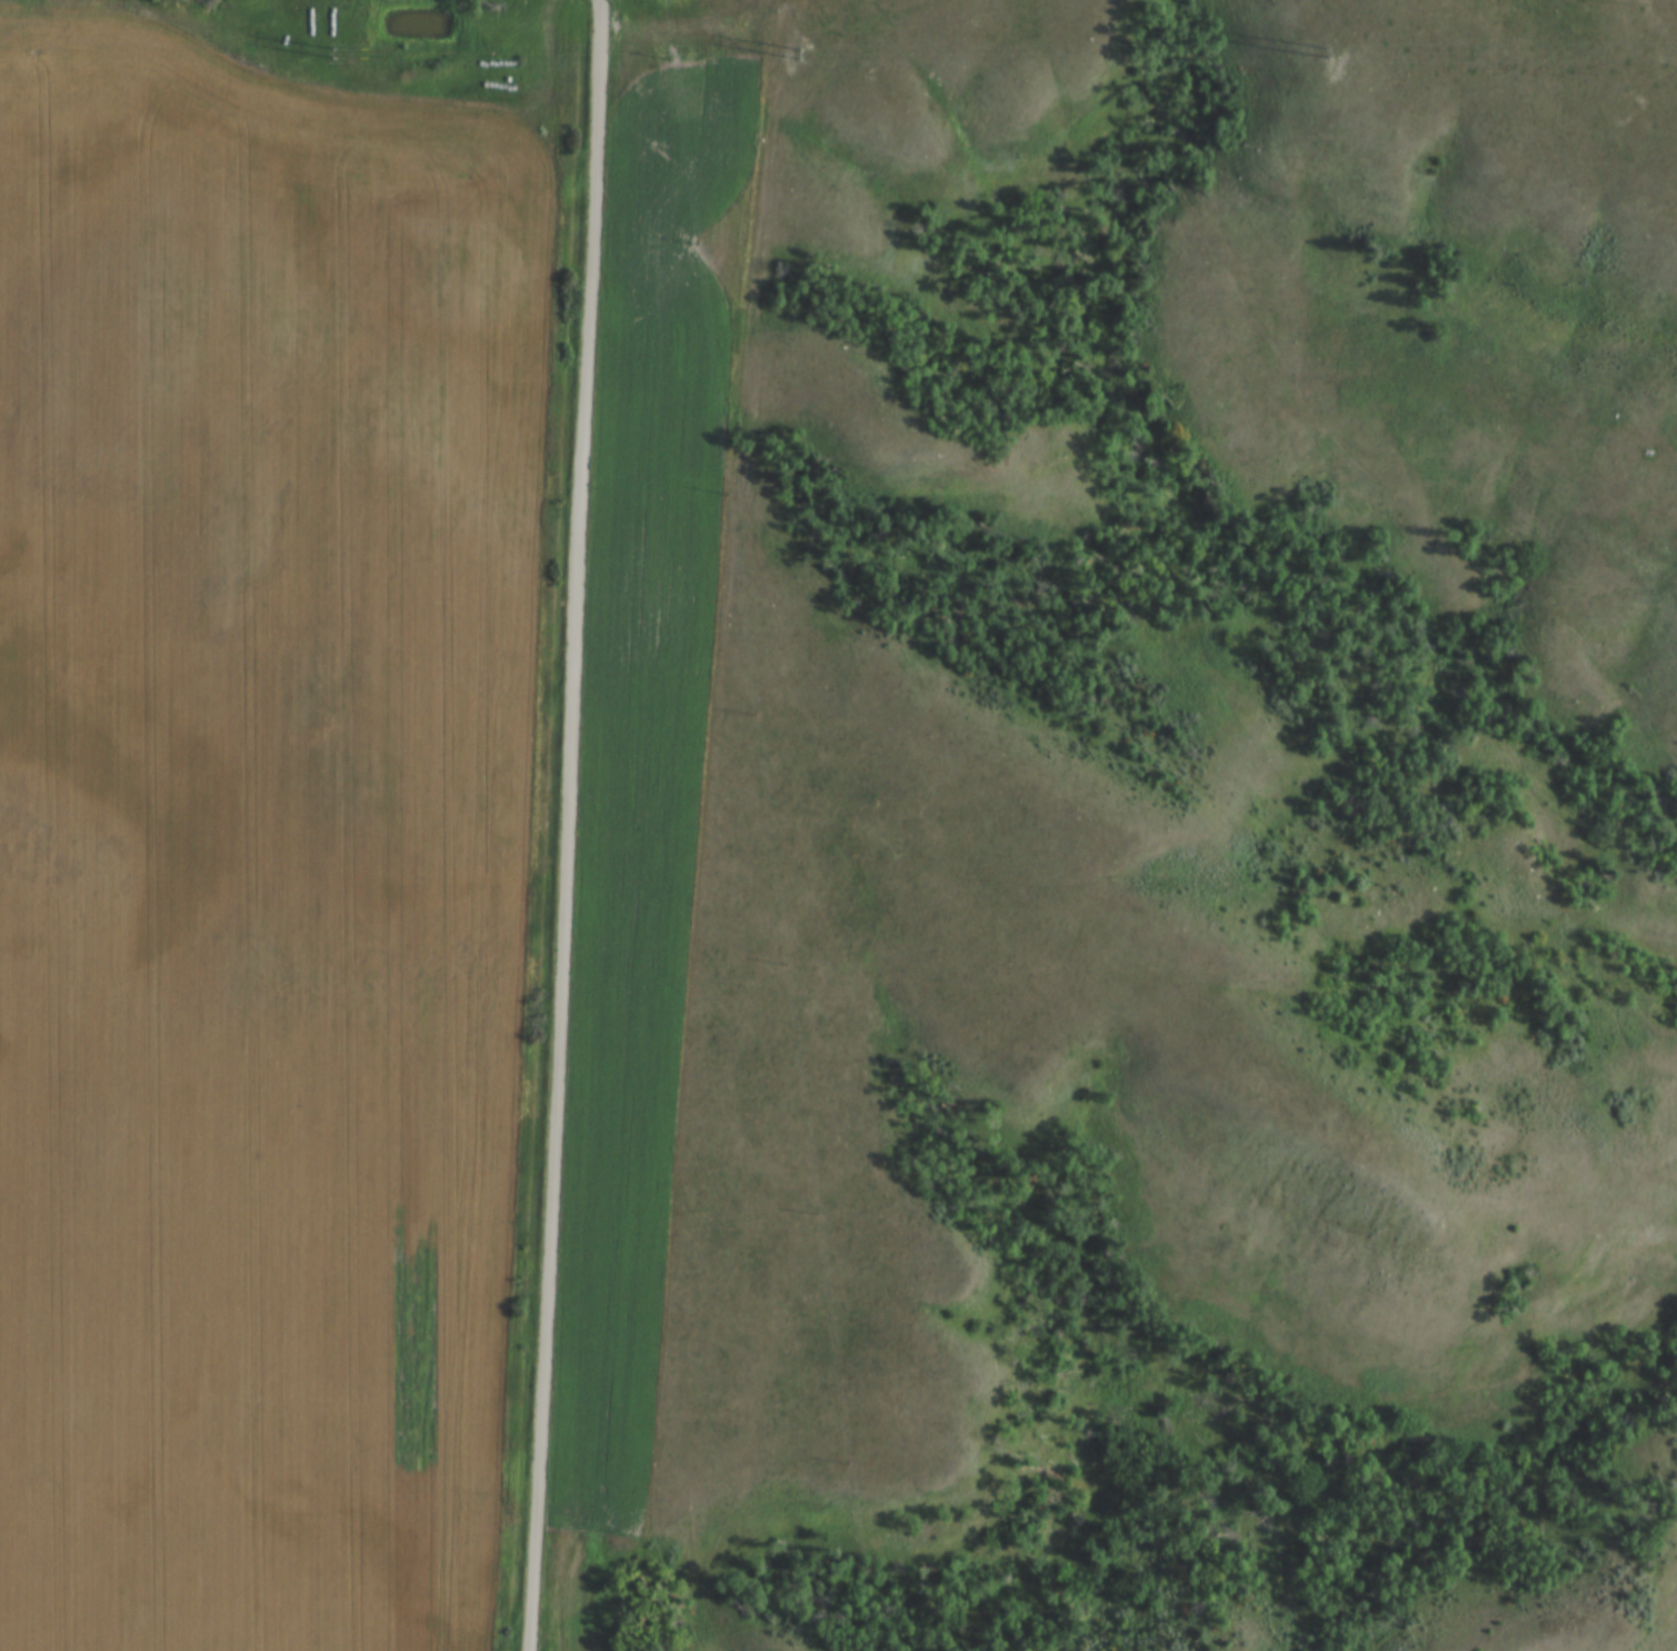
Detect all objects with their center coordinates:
road: (300, 4)
road: (567, 825)

